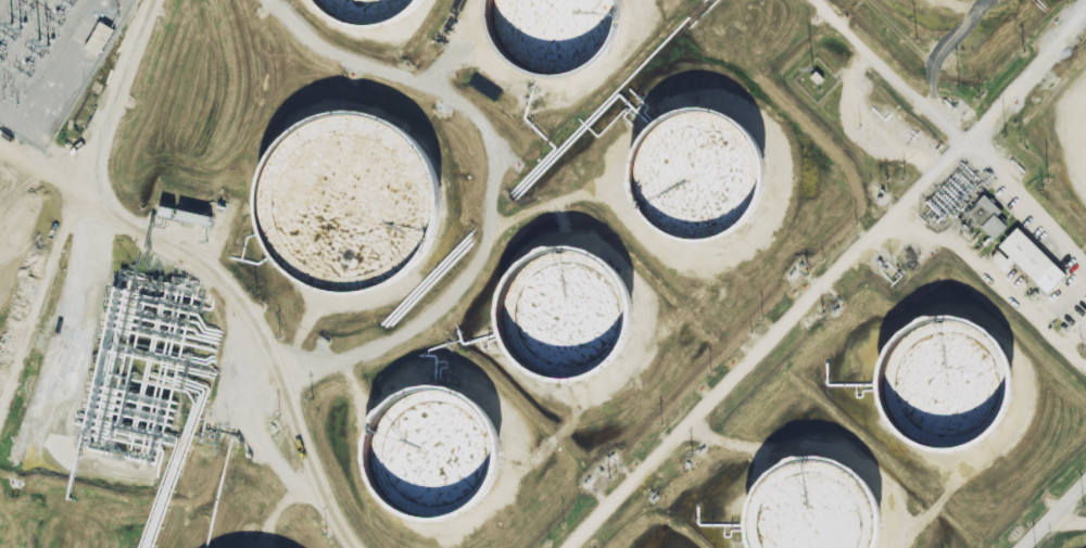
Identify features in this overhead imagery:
building: (375, 11)
storage tank: (375, 11)
building: (561, 33)
storage tank: (561, 33)
power substation: (50, 58)
road: (886, 73)
building: (705, 173)
storage tank: (705, 173)
building: (354, 204)
storage tank: (354, 204)
building: (185, 216)
building: (986, 217)
road: (886, 224)
building: (1031, 260)
building: (570, 313)
storage tank: (570, 313)
building: (948, 383)
storage tank: (948, 383)
building: (438, 454)
storage tank: (438, 454)
building: (816, 510)
storage tank: (816, 510)
road: (1053, 514)

